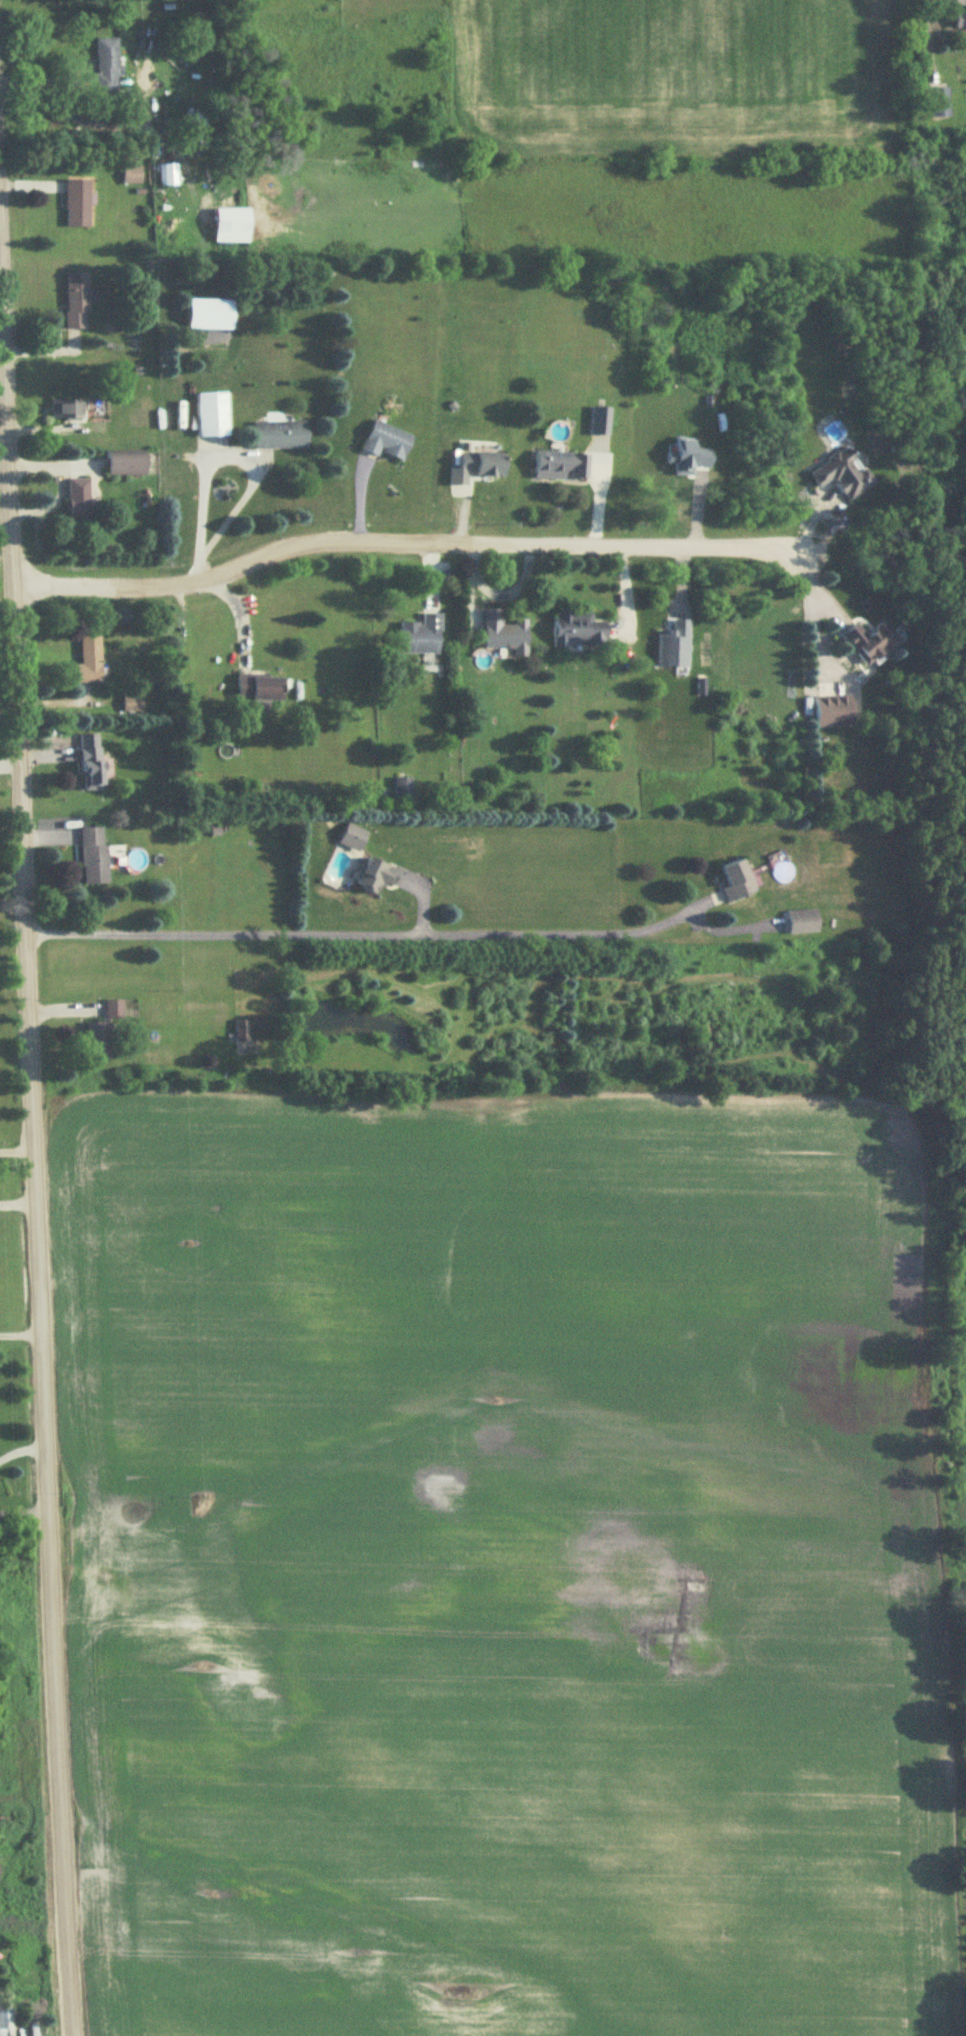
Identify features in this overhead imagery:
building: (960, 20)
road: (930, 27)
building: (107, 67)
building: (941, 102)
building: (132, 176)
building: (168, 176)
building: (77, 204)
building: (232, 226)
building: (77, 302)
road: (0, 379)
building: (67, 411)
building: (212, 415)
building: (600, 422)
building: (280, 436)
building: (386, 442)
road: (224, 455)
building: (127, 464)
building: (482, 464)
building: (561, 466)
building: (842, 474)
building: (79, 501)
road: (394, 534)
road: (811, 604)
road: (237, 609)
building: (580, 630)
building: (505, 634)
building: (421, 637)
building: (870, 643)
building: (90, 660)
building: (260, 689)
building: (132, 705)
building: (833, 711)
building: (93, 769)
building: (401, 789)
building: (353, 838)
building: (94, 857)
building: (378, 876)
building: (736, 881)
building: (800, 923)
road: (355, 936)
building: (112, 1010)
building: (241, 1032)
building: (96, 1042)
road: (15, 1153)
road: (31, 1194)
road: (16, 1201)
road: (18, 1337)
road: (19, 1448)
road: (22, 1510)
building: (3, 2023)

